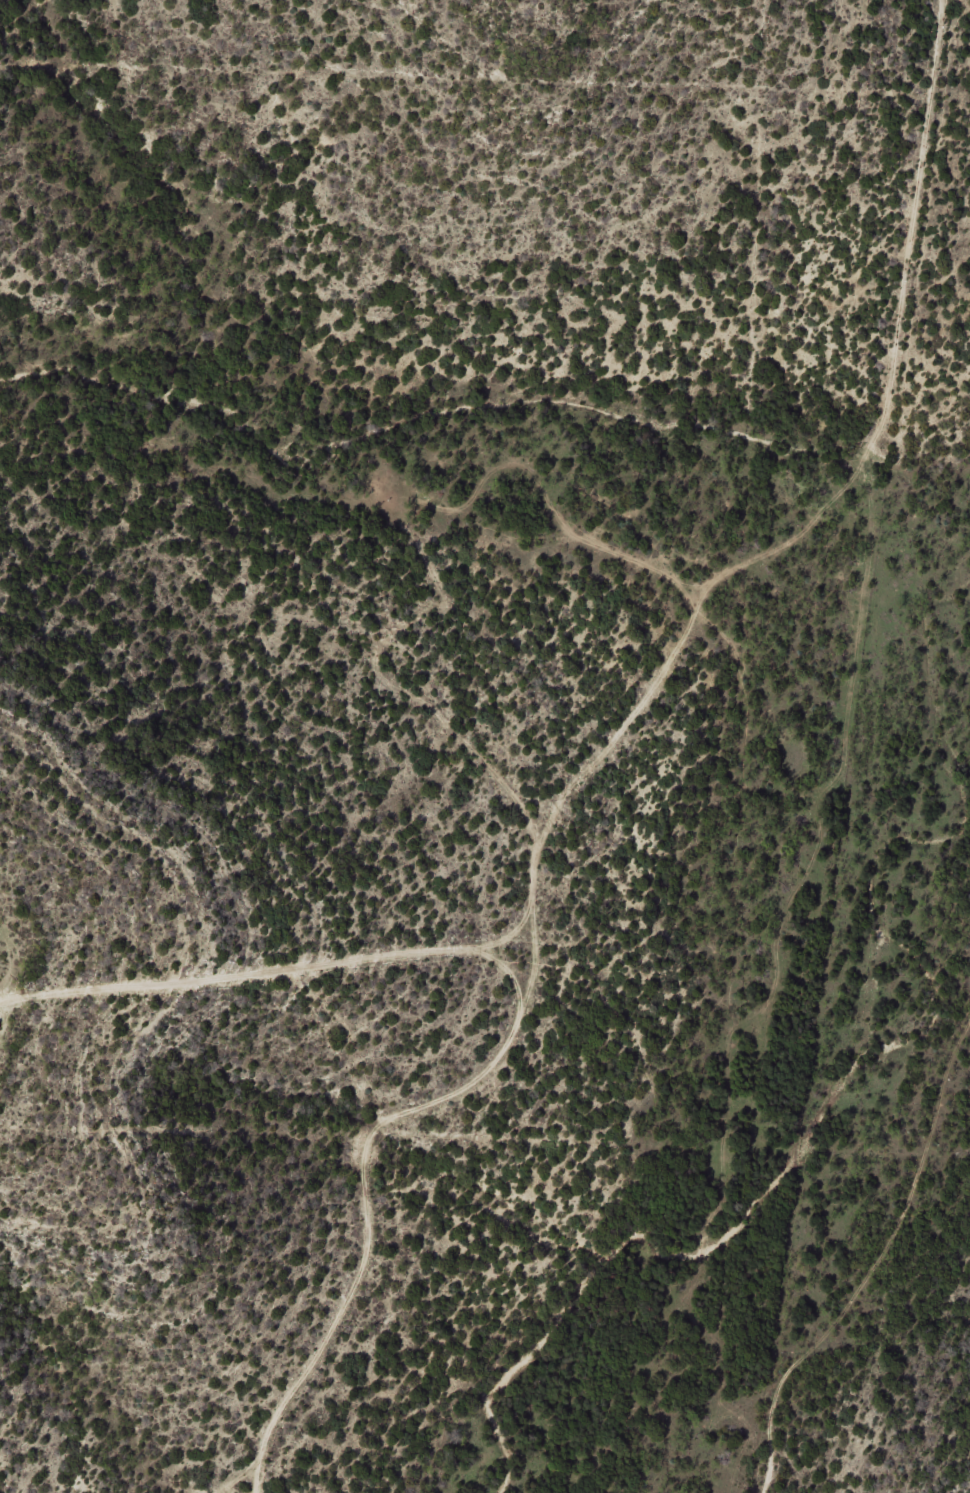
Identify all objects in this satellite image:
road: (523, 983)
road: (860, 1287)

